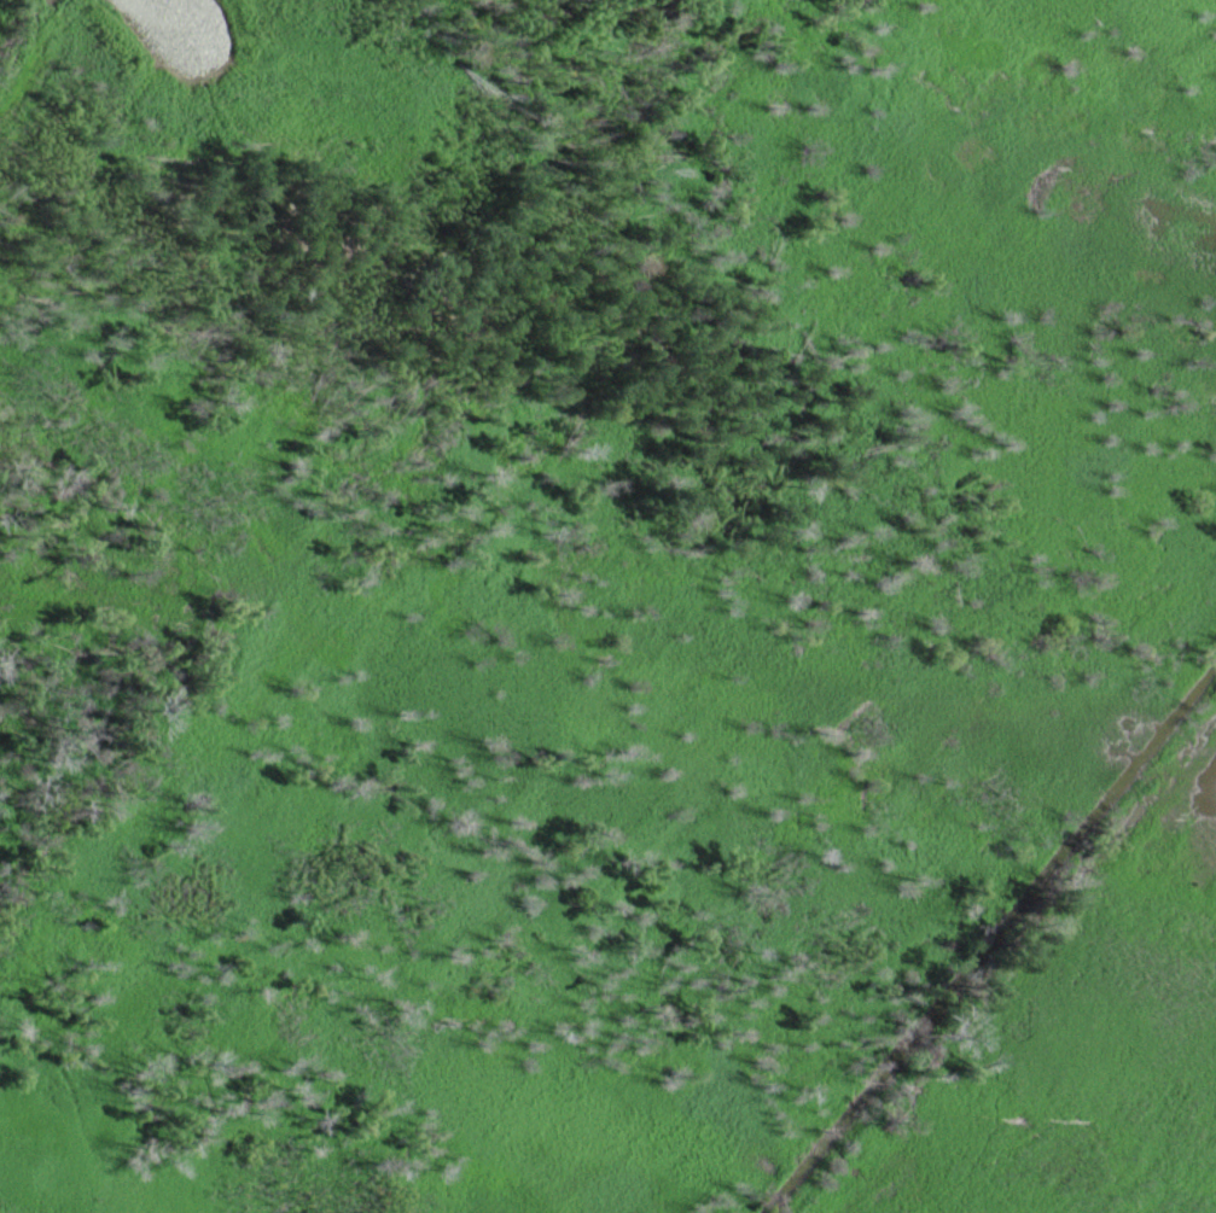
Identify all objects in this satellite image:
road: (34, 36)
road: (427, 590)
road: (281, 658)

